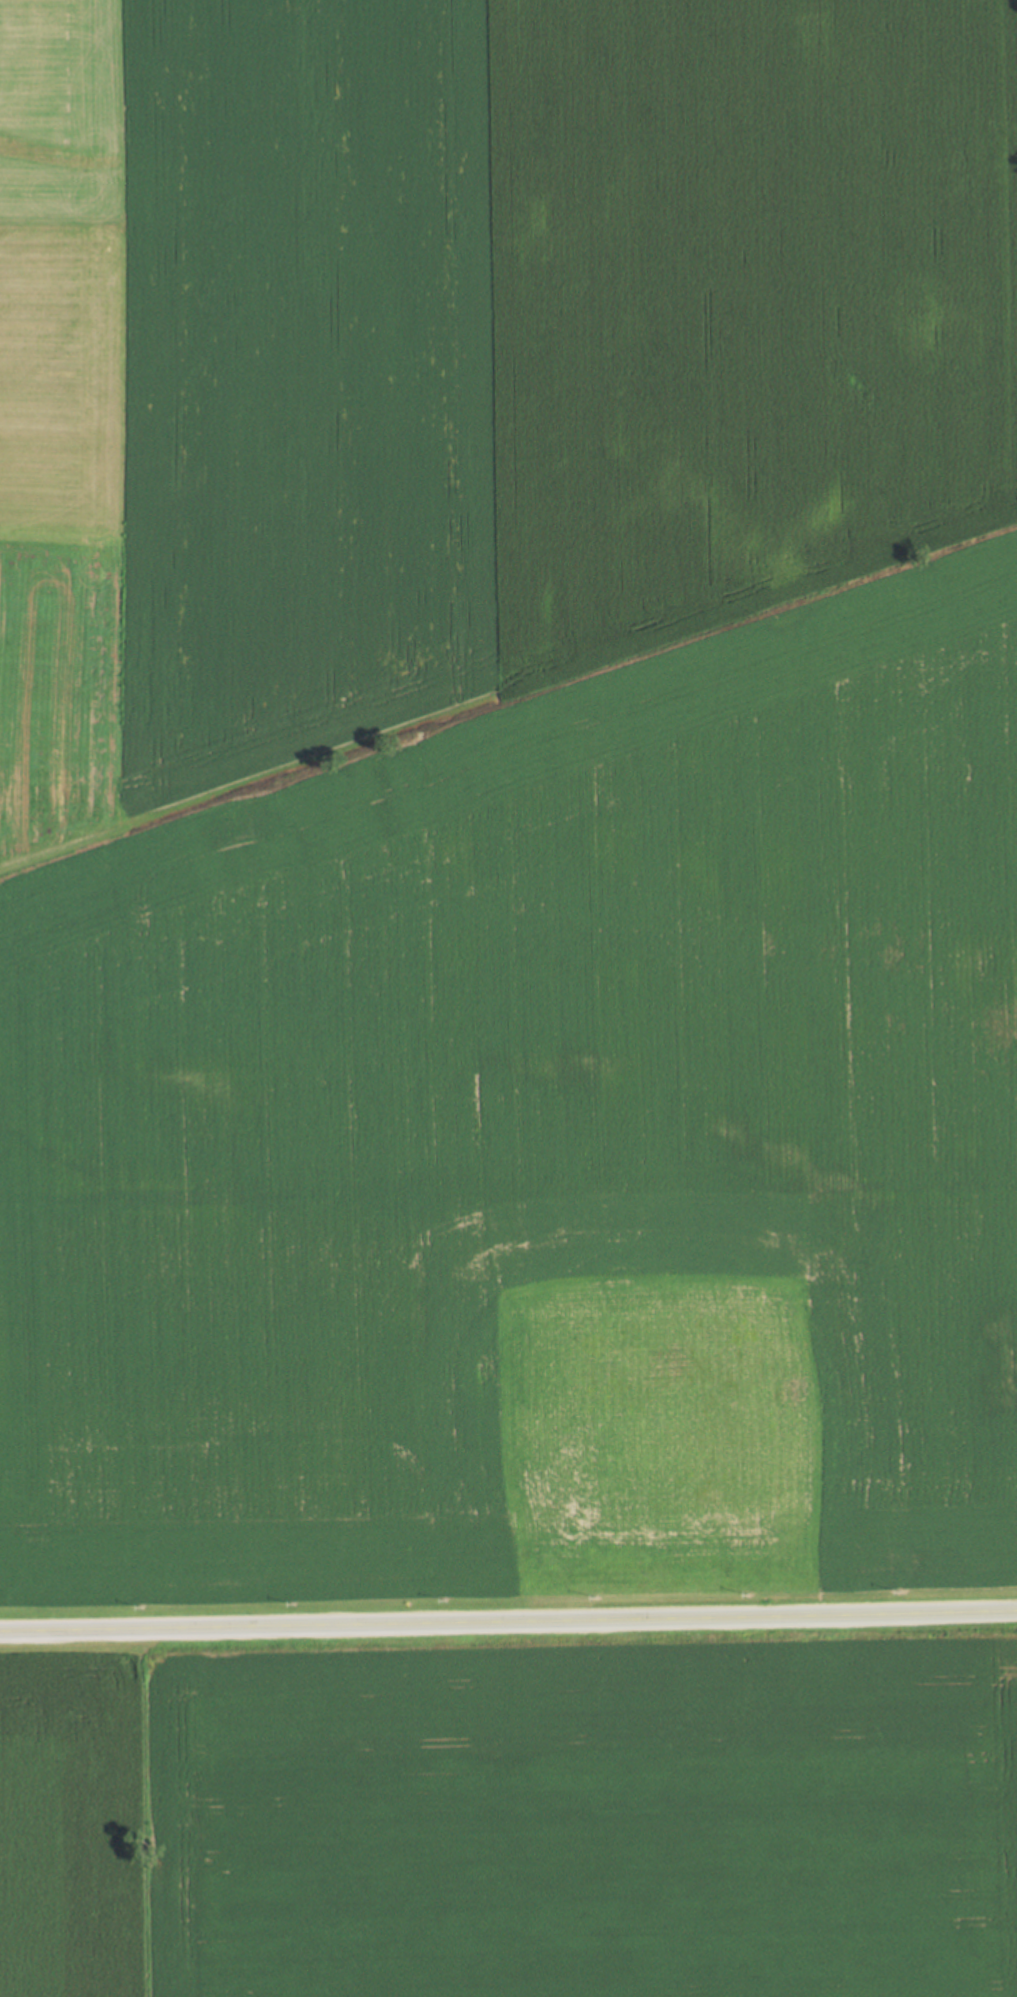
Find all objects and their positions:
road: (508, 1621)

